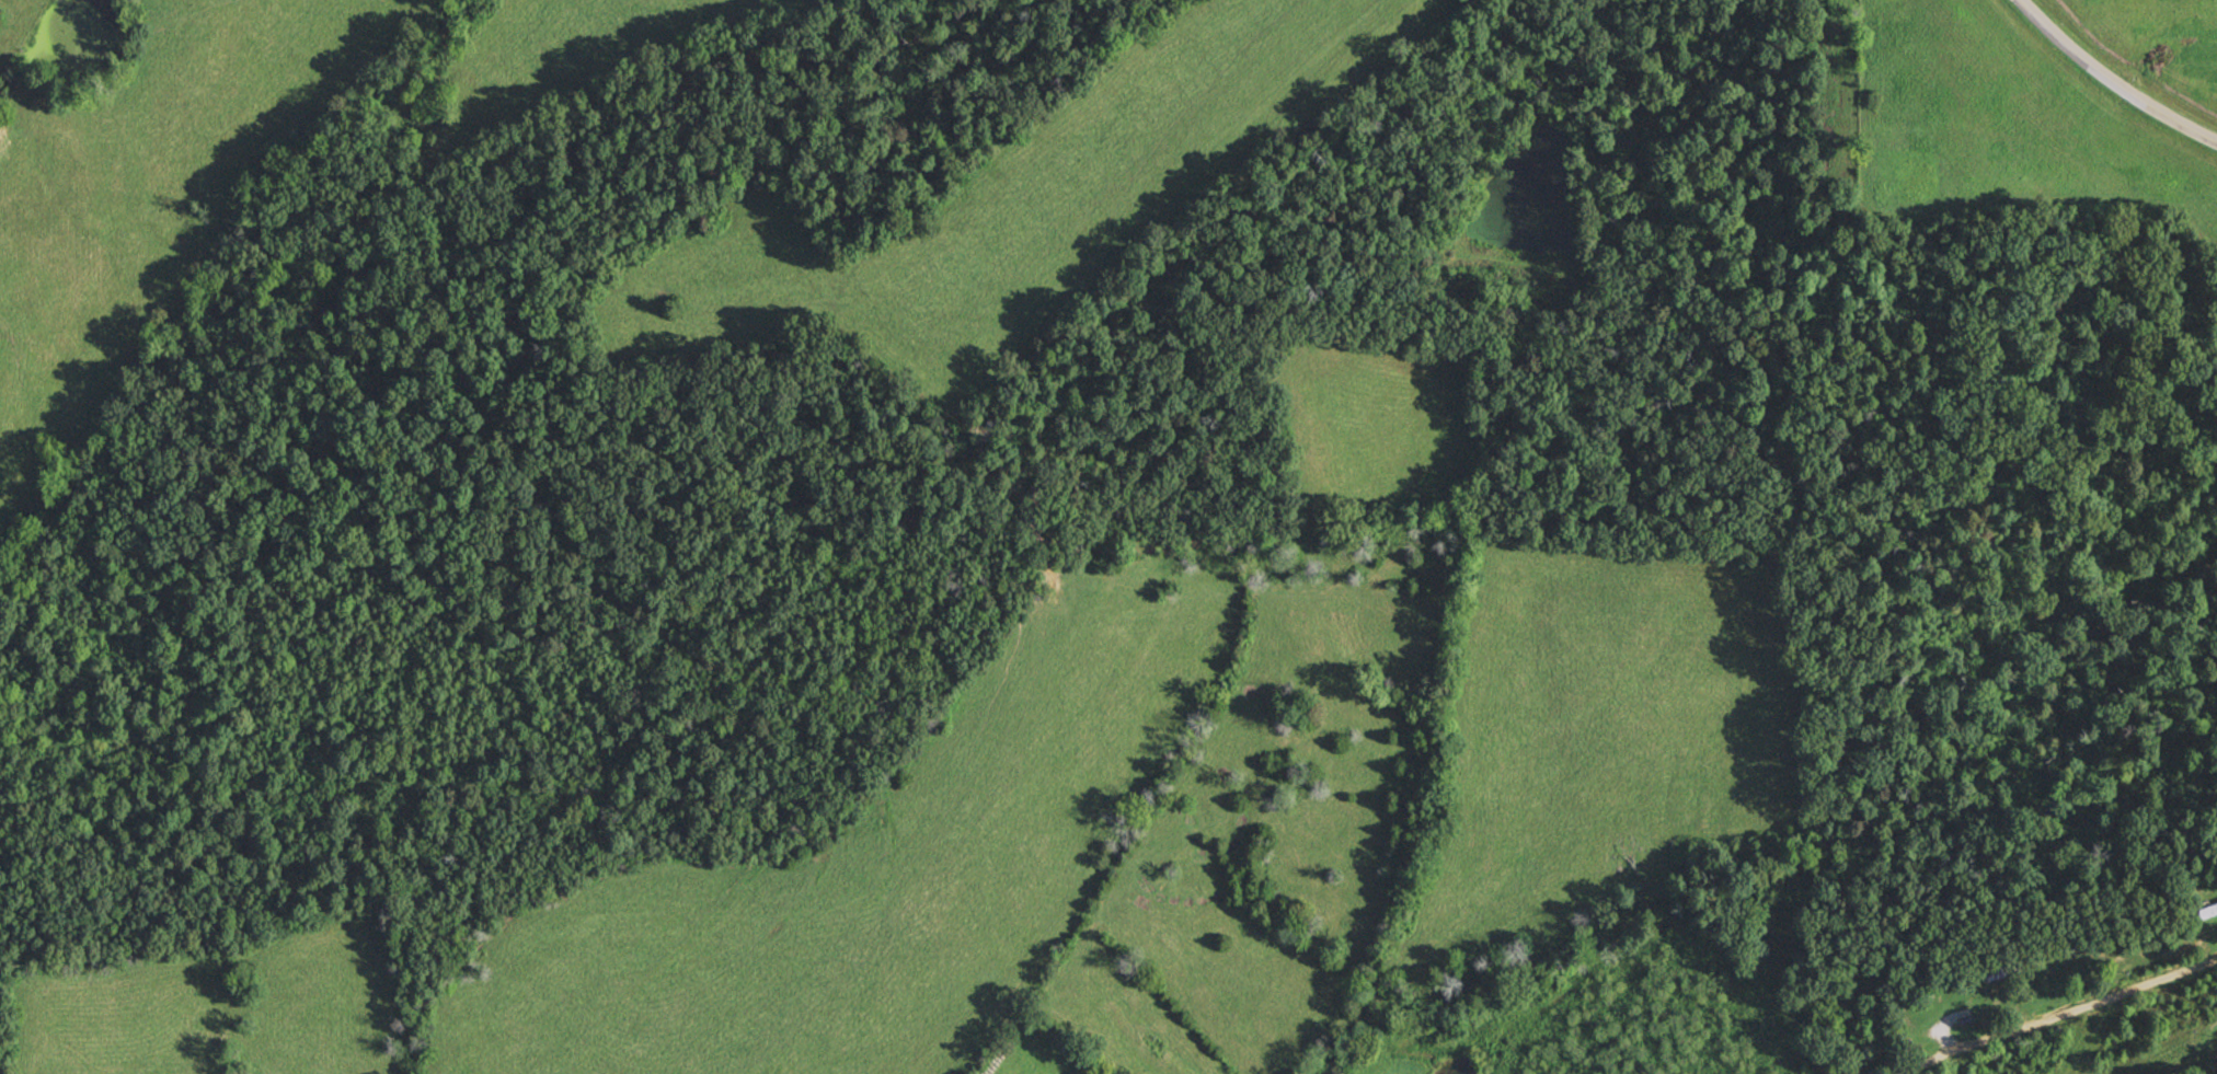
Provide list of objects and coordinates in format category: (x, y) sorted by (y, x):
road: (2106, 84)
building: (2208, 910)
road: (2063, 1014)

